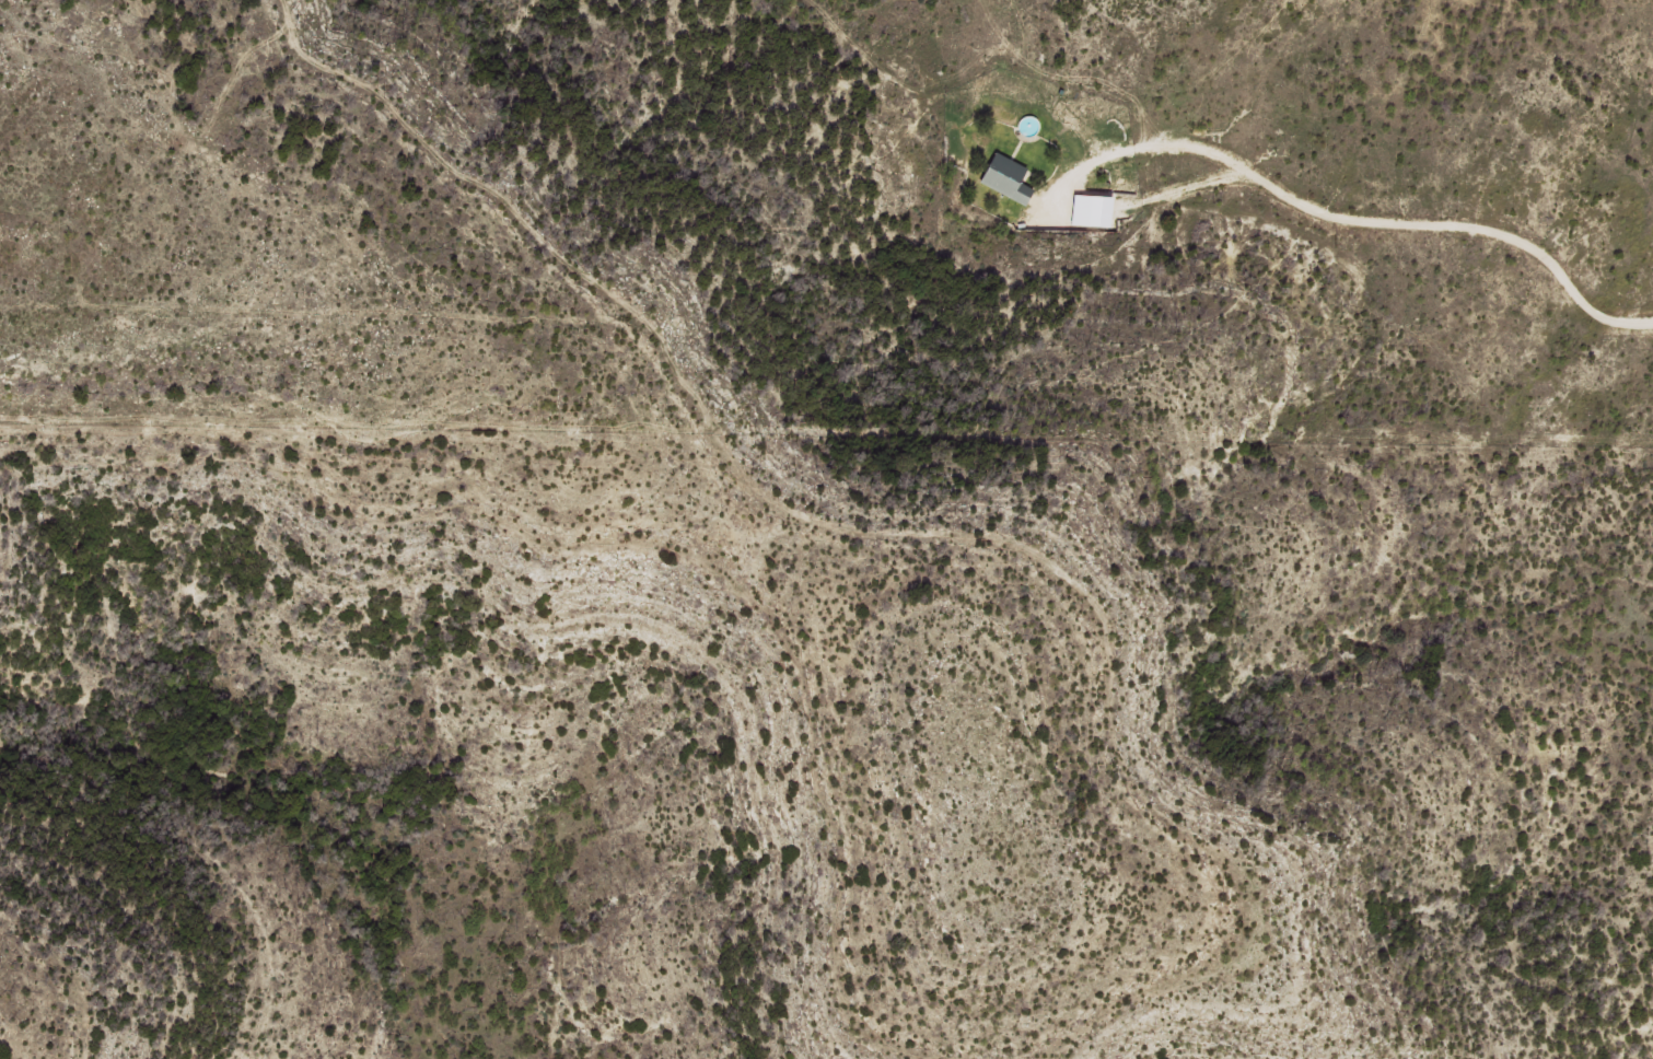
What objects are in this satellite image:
building: (1005, 178)
building: (1092, 210)

